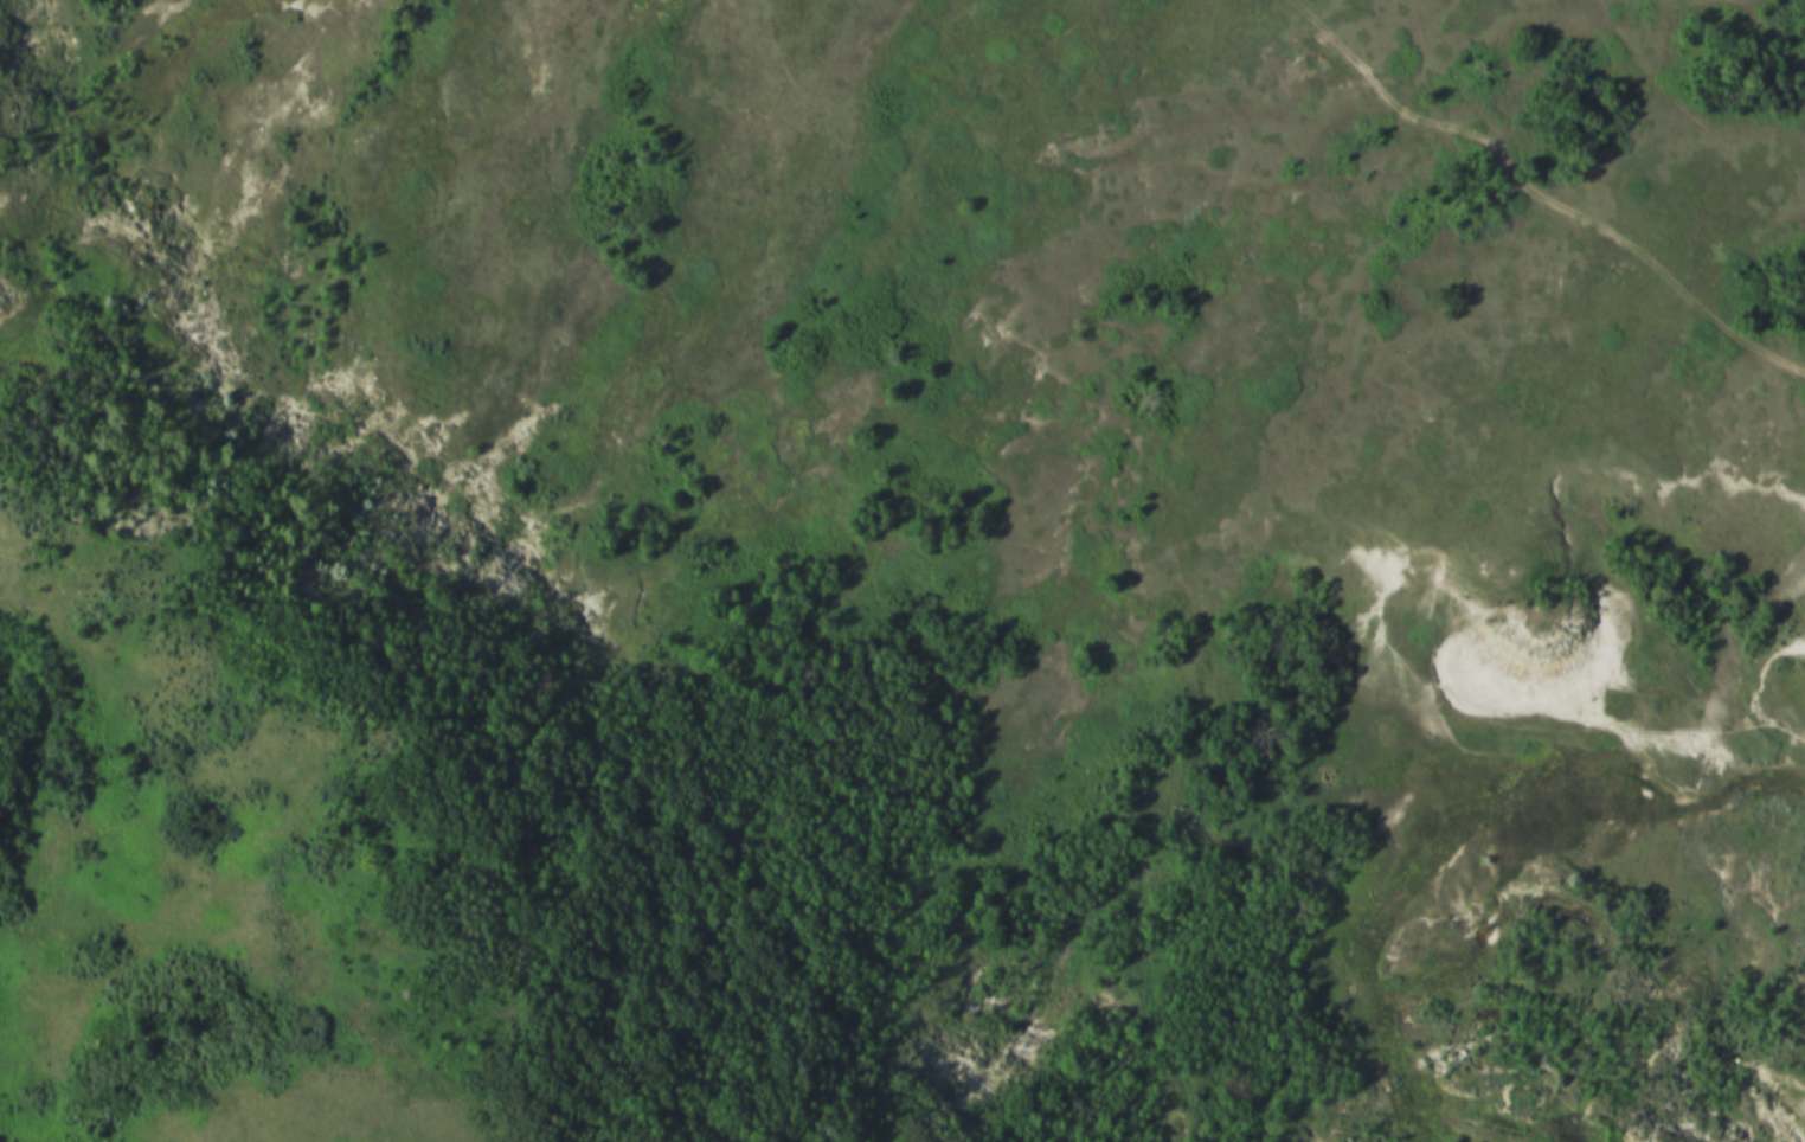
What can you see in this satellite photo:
road: (1539, 195)

